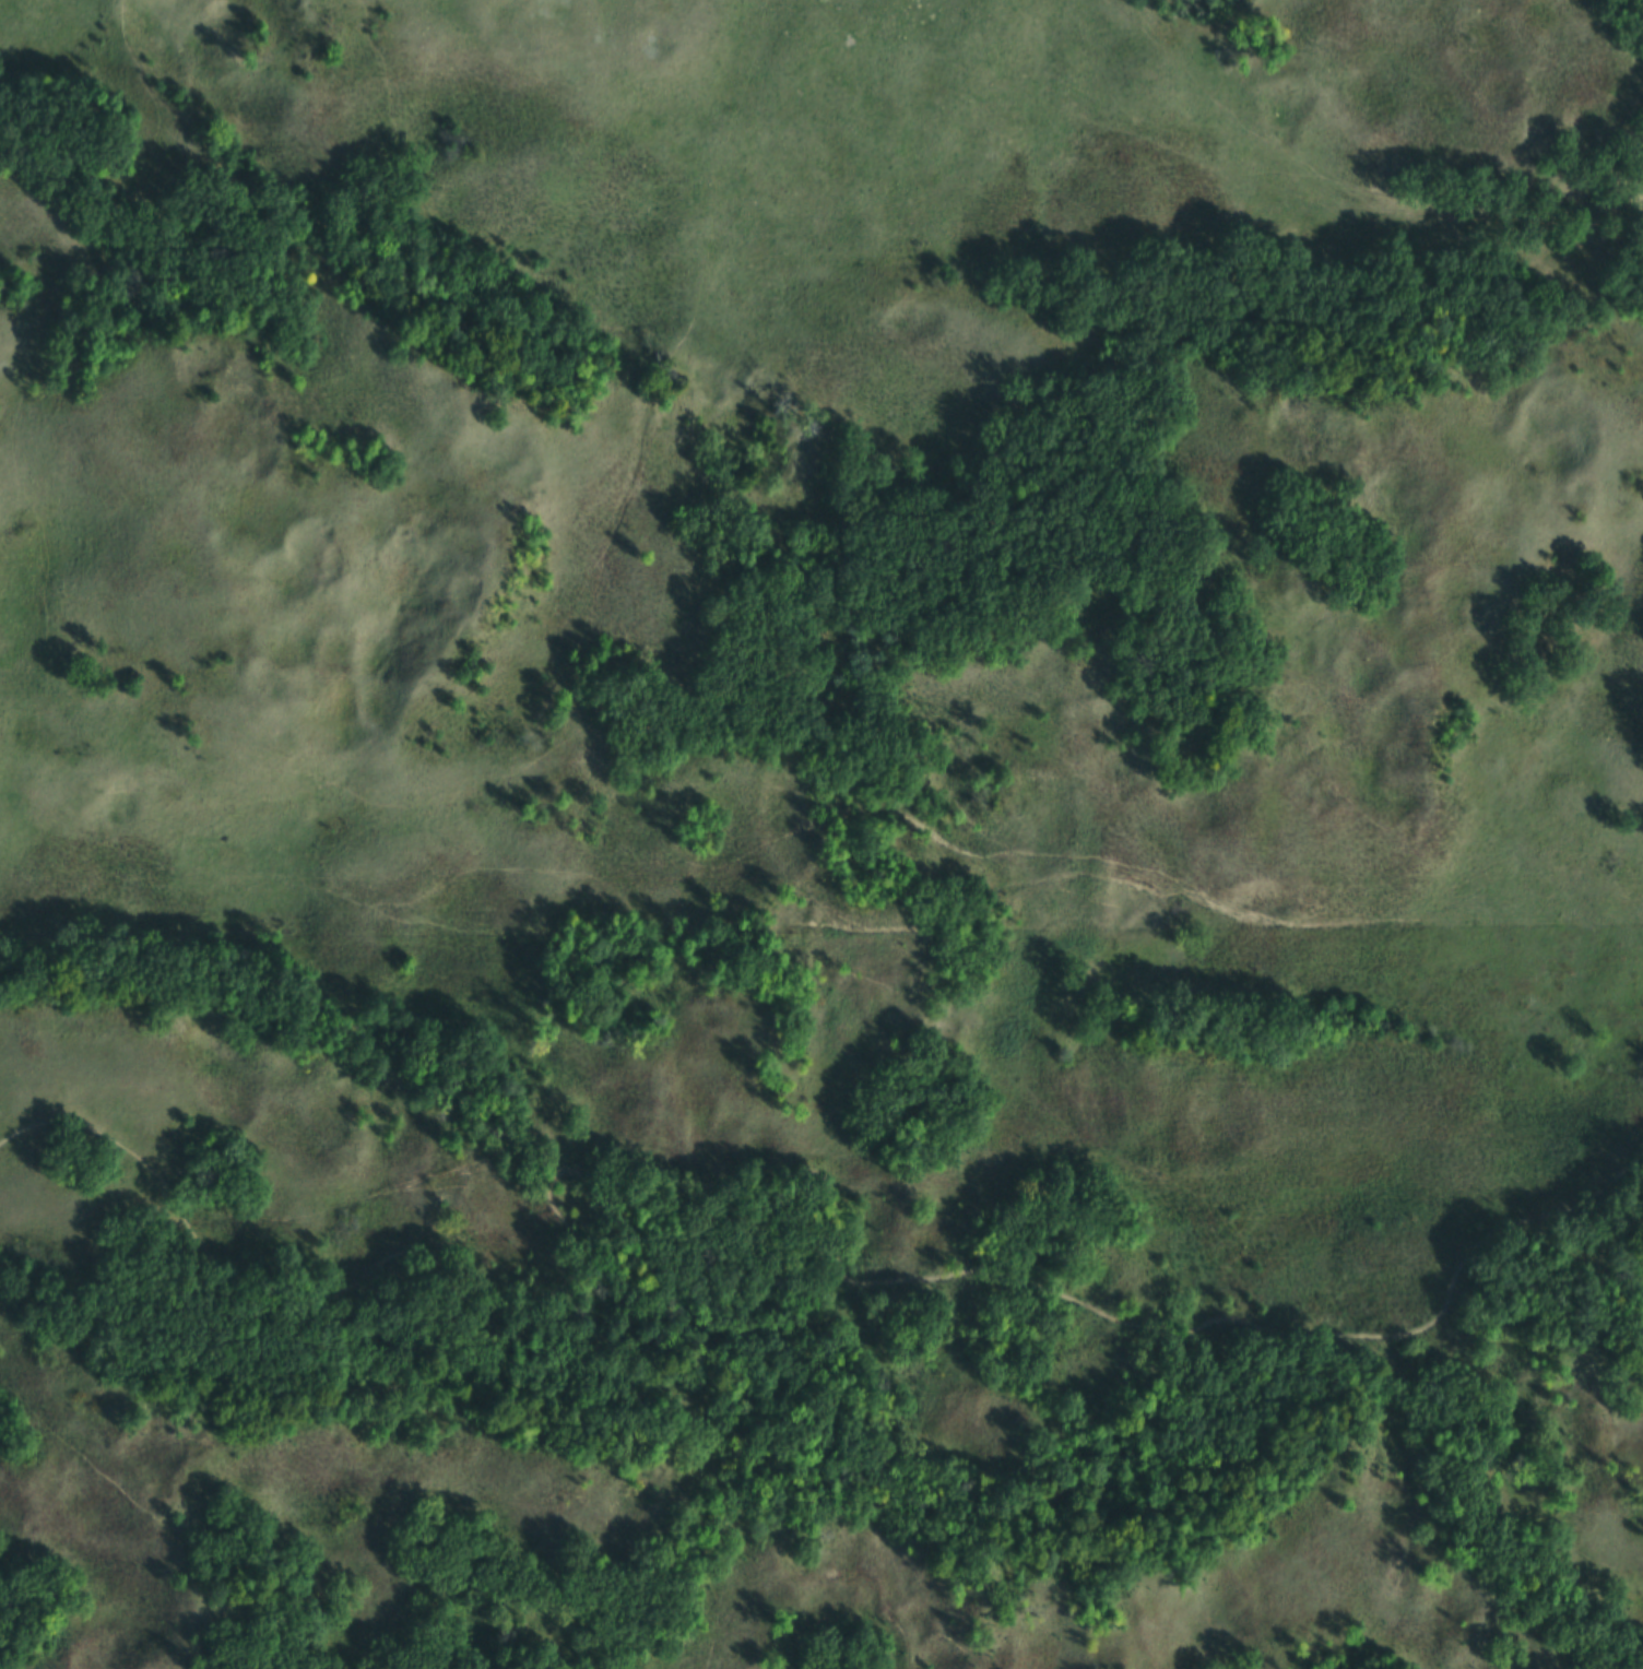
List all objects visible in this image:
road: (752, 1186)

